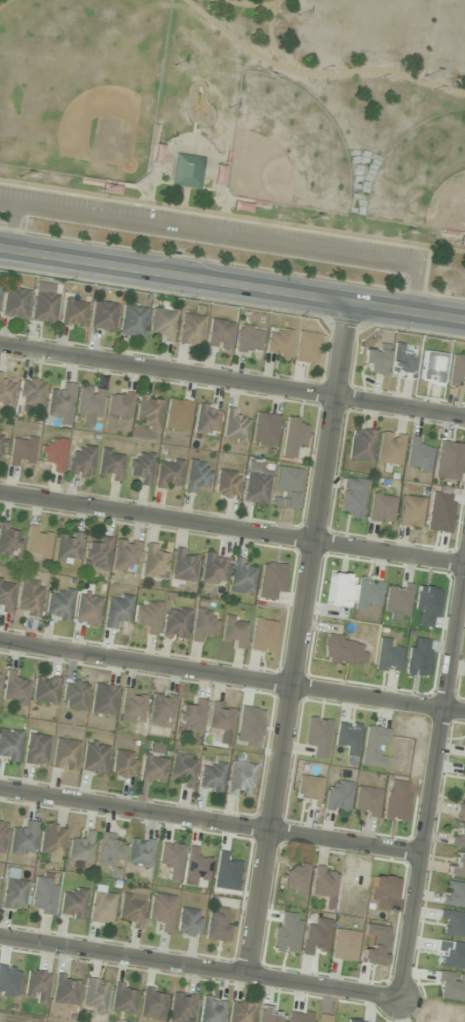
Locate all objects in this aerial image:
park: (79, 84)
building: (186, 171)
building: (217, 174)
building: (108, 187)
building: (240, 207)
building: (461, 241)
road: (232, 281)
building: (13, 303)
building: (43, 303)
building: (72, 313)
building: (102, 316)
building: (131, 321)
building: (160, 324)
building: (189, 330)
building: (218, 334)
building: (247, 339)
building: (277, 343)
building: (306, 348)
building: (374, 360)
building: (402, 361)
building: (432, 367)
building: (457, 370)
road: (232, 378)
building: (30, 392)
building: (6, 393)
building: (60, 402)
building: (118, 404)
building: (89, 405)
building: (146, 412)
building: (176, 415)
building: (205, 420)
building: (233, 427)
building: (264, 429)
building: (292, 436)
building: (2, 440)
building: (361, 444)
building: (390, 448)
building: (21, 451)
building: (52, 454)
building: (418, 456)
building: (448, 460)
building: (80, 462)
building: (109, 464)
building: (140, 468)
building: (167, 474)
building: (195, 476)
building: (225, 484)
building: (286, 487)
building: (255, 488)
building: (351, 497)
building: (381, 508)
building: (410, 512)
road: (232, 528)
building: (8, 541)
building: (38, 543)
building: (66, 547)
building: (97, 555)
building: (125, 555)
building: (153, 563)
building: (183, 565)
building: (213, 569)
building: (241, 577)
building: (270, 580)
building: (5, 595)
building: (29, 598)
building: (58, 604)
building: (86, 609)
building: (116, 610)
building: (147, 616)
building: (175, 623)
building: (203, 624)
building: (233, 631)
road: (297, 636)
building: (343, 651)
road: (232, 676)
building: (14, 689)
building: (45, 689)
building: (74, 695)
building: (103, 699)
building: (132, 705)
building: (161, 709)
building: (192, 716)
building: (220, 718)
building: (9, 745)
building: (374, 746)
building: (35, 749)
building: (464, 749)
building: (65, 754)
building: (94, 758)
building: (123, 764)
building: (152, 769)
building: (183, 769)
building: (211, 777)
building: (240, 779)
road: (432, 780)
building: (308, 790)
building: (337, 796)
building: (366, 801)
building: (460, 806)
road: (210, 822)
building: (2, 831)
building: (458, 835)
building: (22, 840)
building: (51, 843)
building: (81, 850)
building: (109, 851)
building: (140, 852)
building: (170, 859)
building: (196, 865)
building: (457, 865)
building: (296, 878)
building: (325, 885)
building: (14, 894)
building: (454, 894)
building: (44, 896)
building: (73, 904)
building: (101, 908)
building: (132, 910)
building: (162, 911)
building: (188, 922)
building: (218, 924)
road: (199, 967)
building: (36, 986)
building: (65, 989)
building: (94, 995)
building: (124, 998)
building: (153, 1003)
building: (182, 1007)
building: (211, 1010)
building: (241, 1012)
building: (270, 1016)

